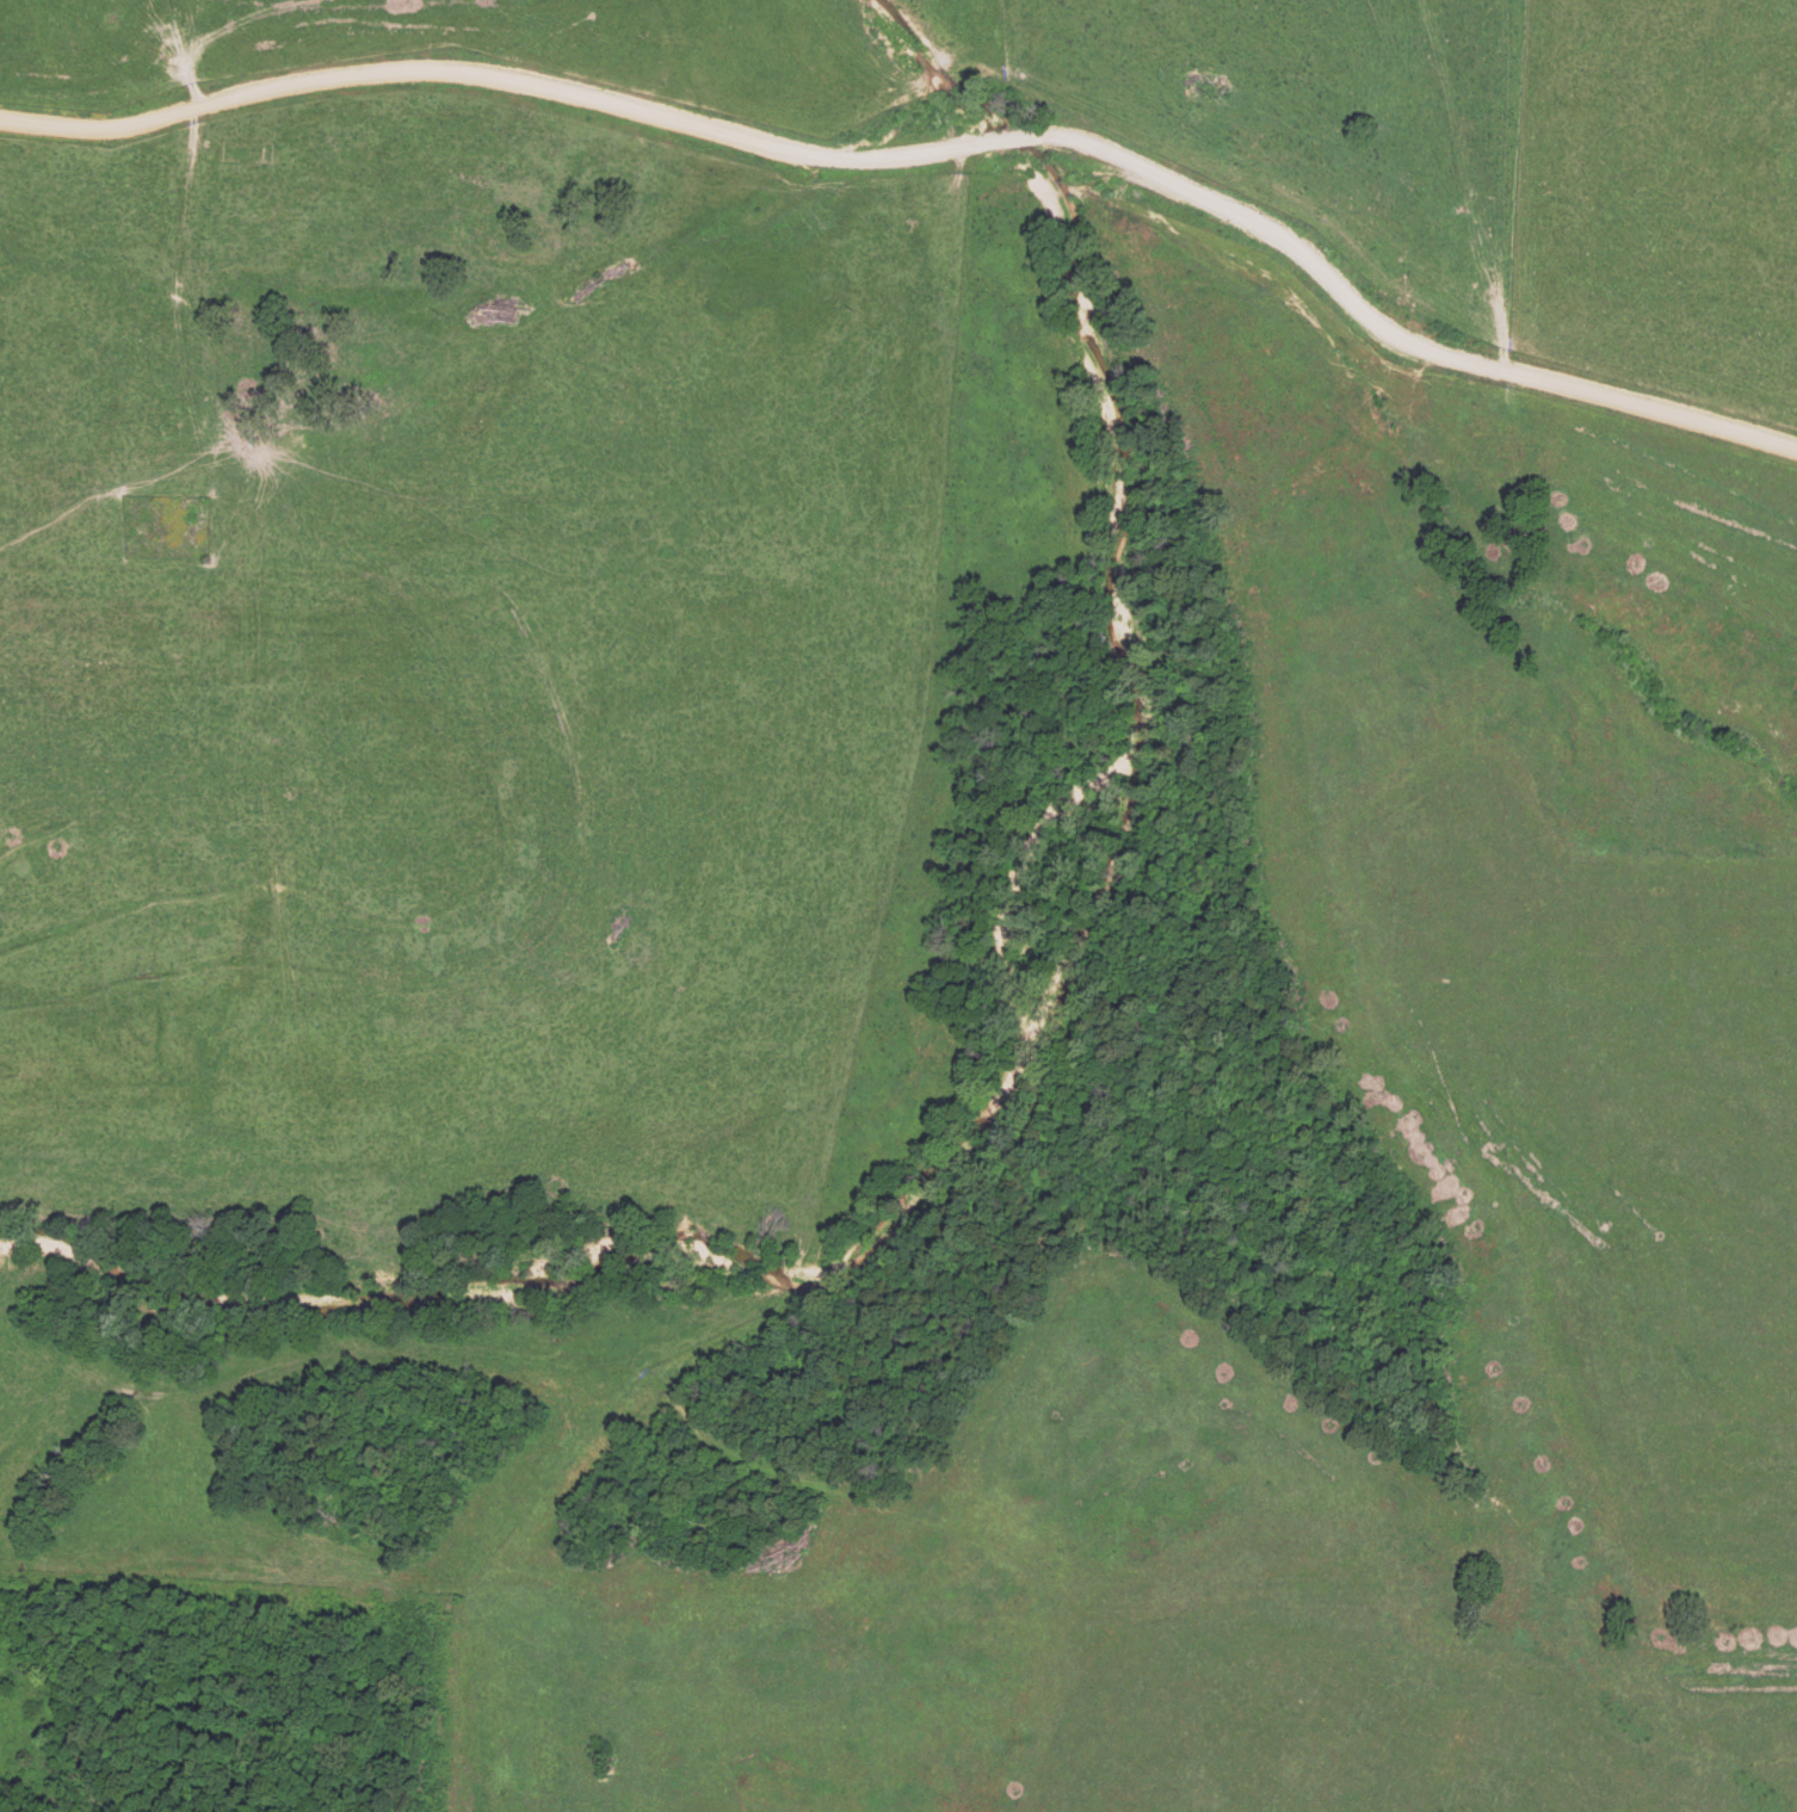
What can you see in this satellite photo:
road: (933, 153)
road: (165, 280)
park: (163, 528)

